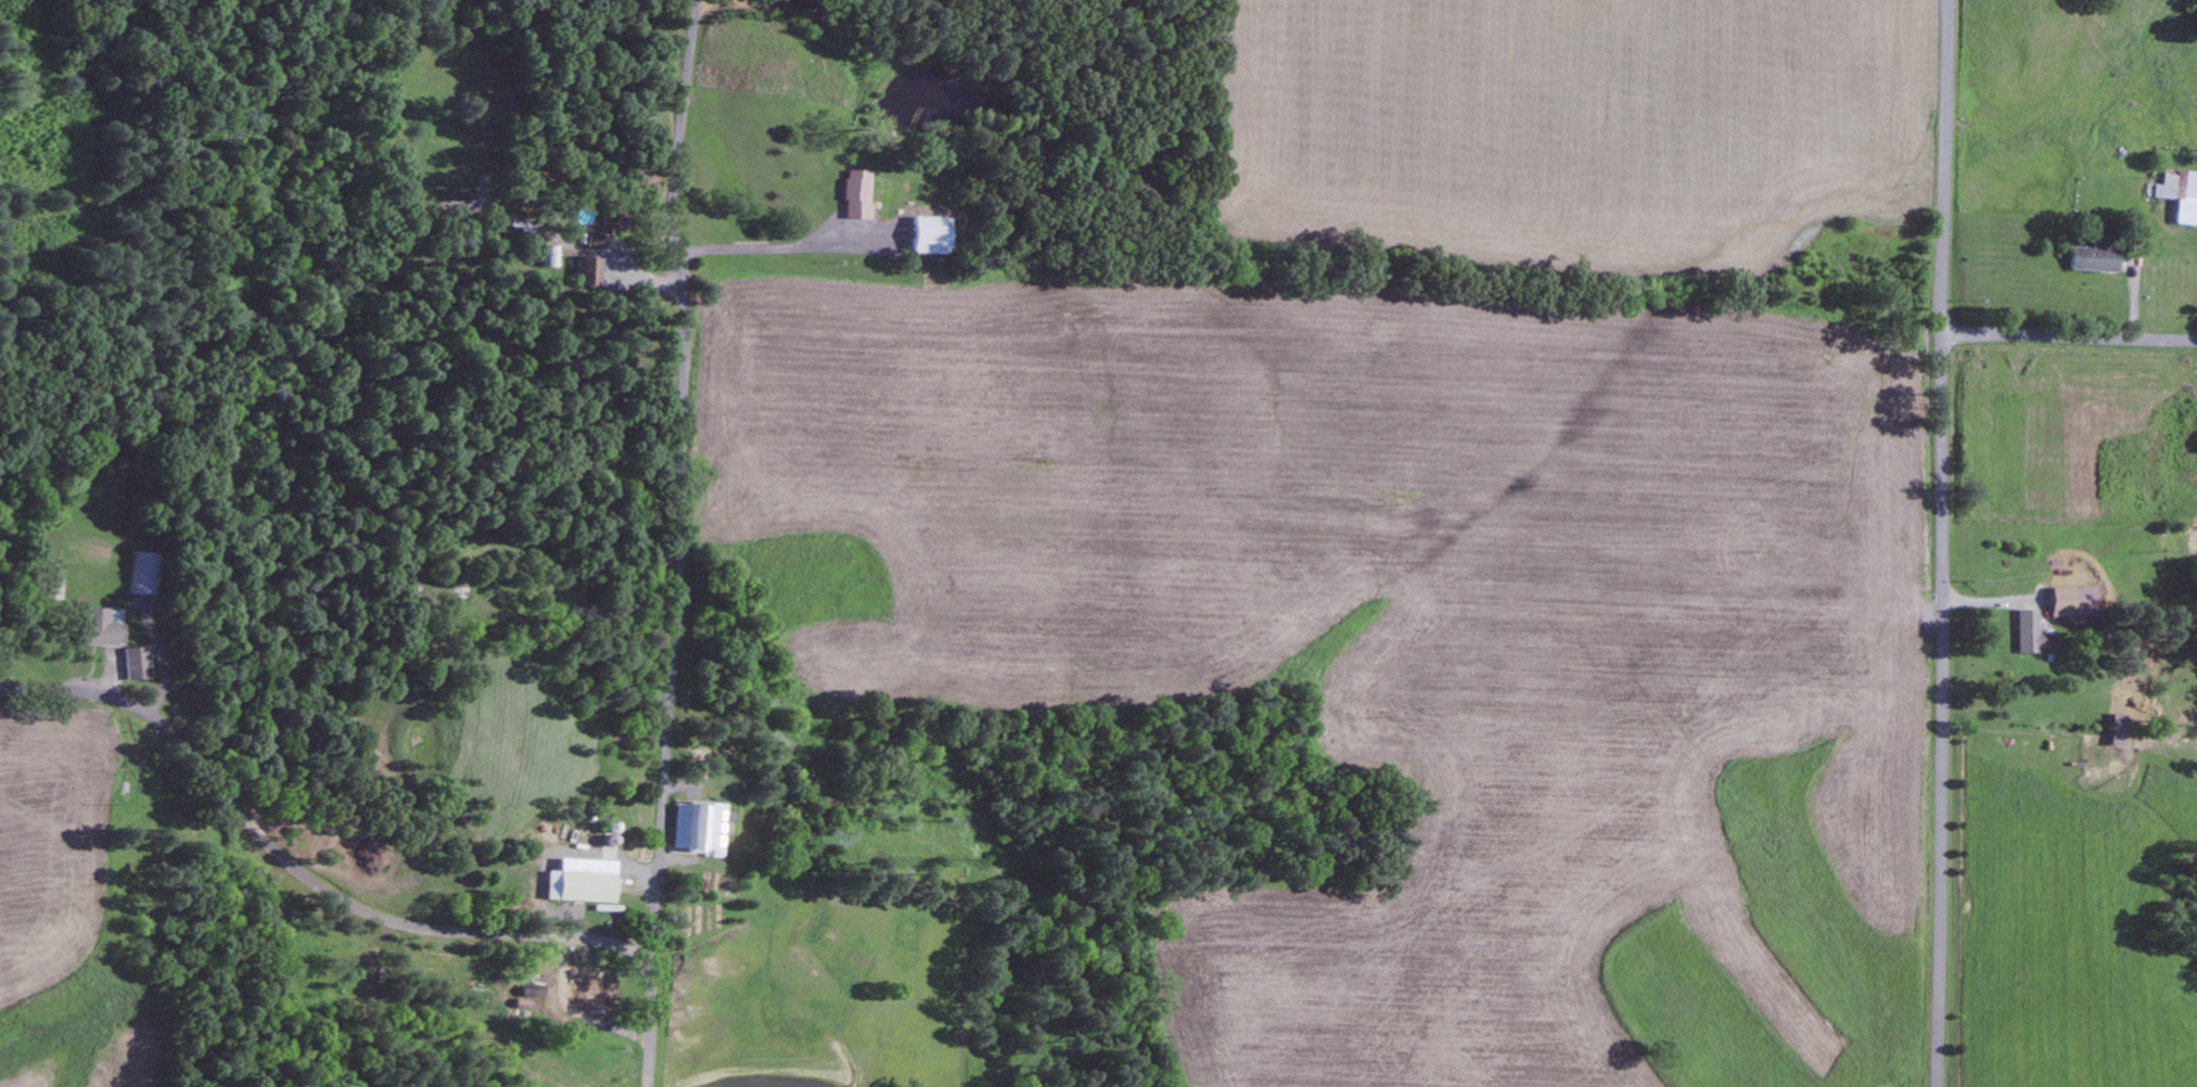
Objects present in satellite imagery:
building: (2181, 193)
building: (858, 194)
building: (931, 235)
building: (592, 241)
building: (550, 256)
building: (2095, 258)
building: (587, 271)
road: (2069, 338)
road: (680, 489)
road: (1941, 542)
building: (144, 574)
building: (2070, 602)
building: (101, 630)
building: (2030, 635)
building: (136, 664)
building: (2115, 730)
building: (582, 880)
road: (350, 903)
building: (582, 990)

